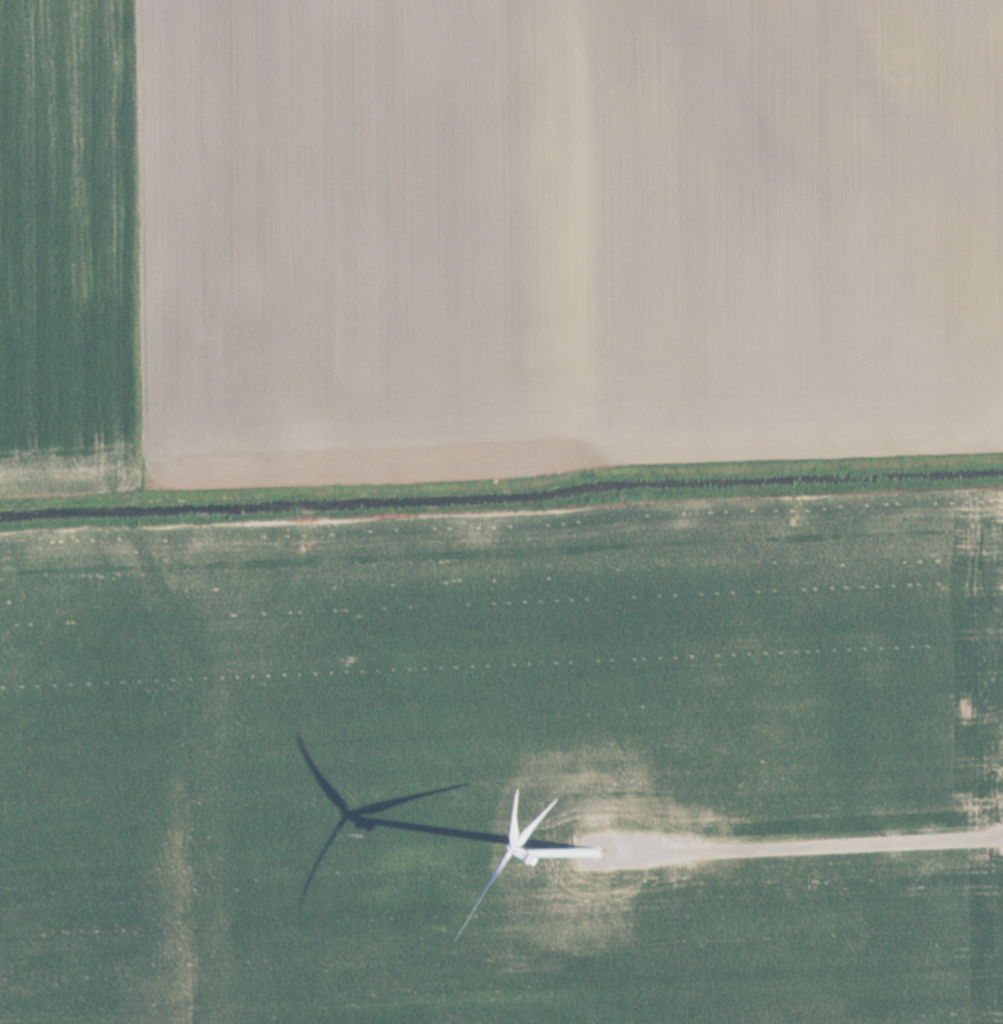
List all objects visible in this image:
road: (831, 840)
wind turbine: (583, 855)

